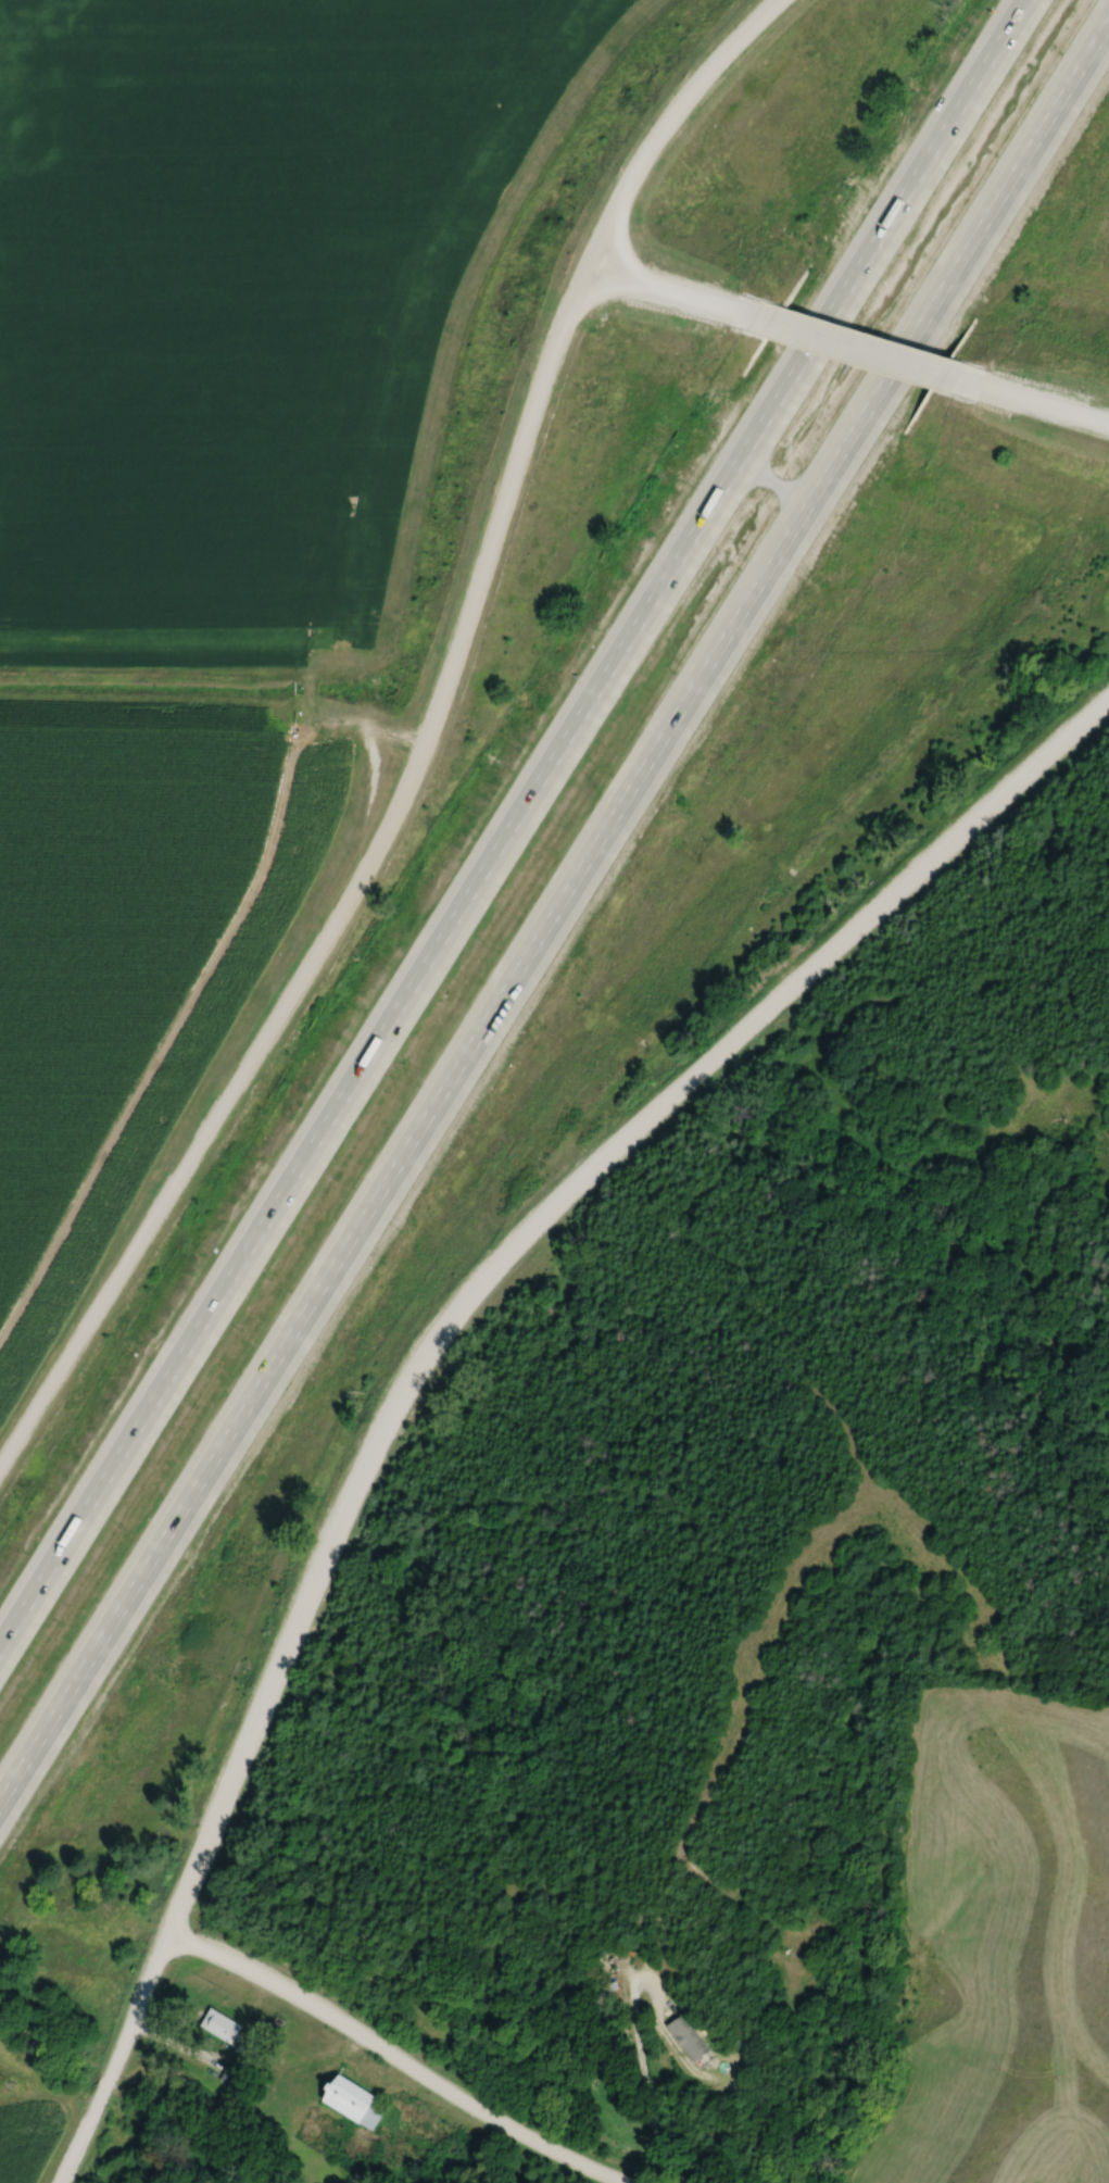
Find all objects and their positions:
road: (682, 103)
road: (647, 290)
road: (594, 292)
road: (847, 353)
road: (1037, 410)
road: (516, 827)
road: (356, 871)
road: (557, 940)
road: (437, 1337)
building: (220, 2025)
building: (691, 2037)
road: (389, 2059)
road: (278, 2065)
road: (639, 2066)
building: (355, 2103)

